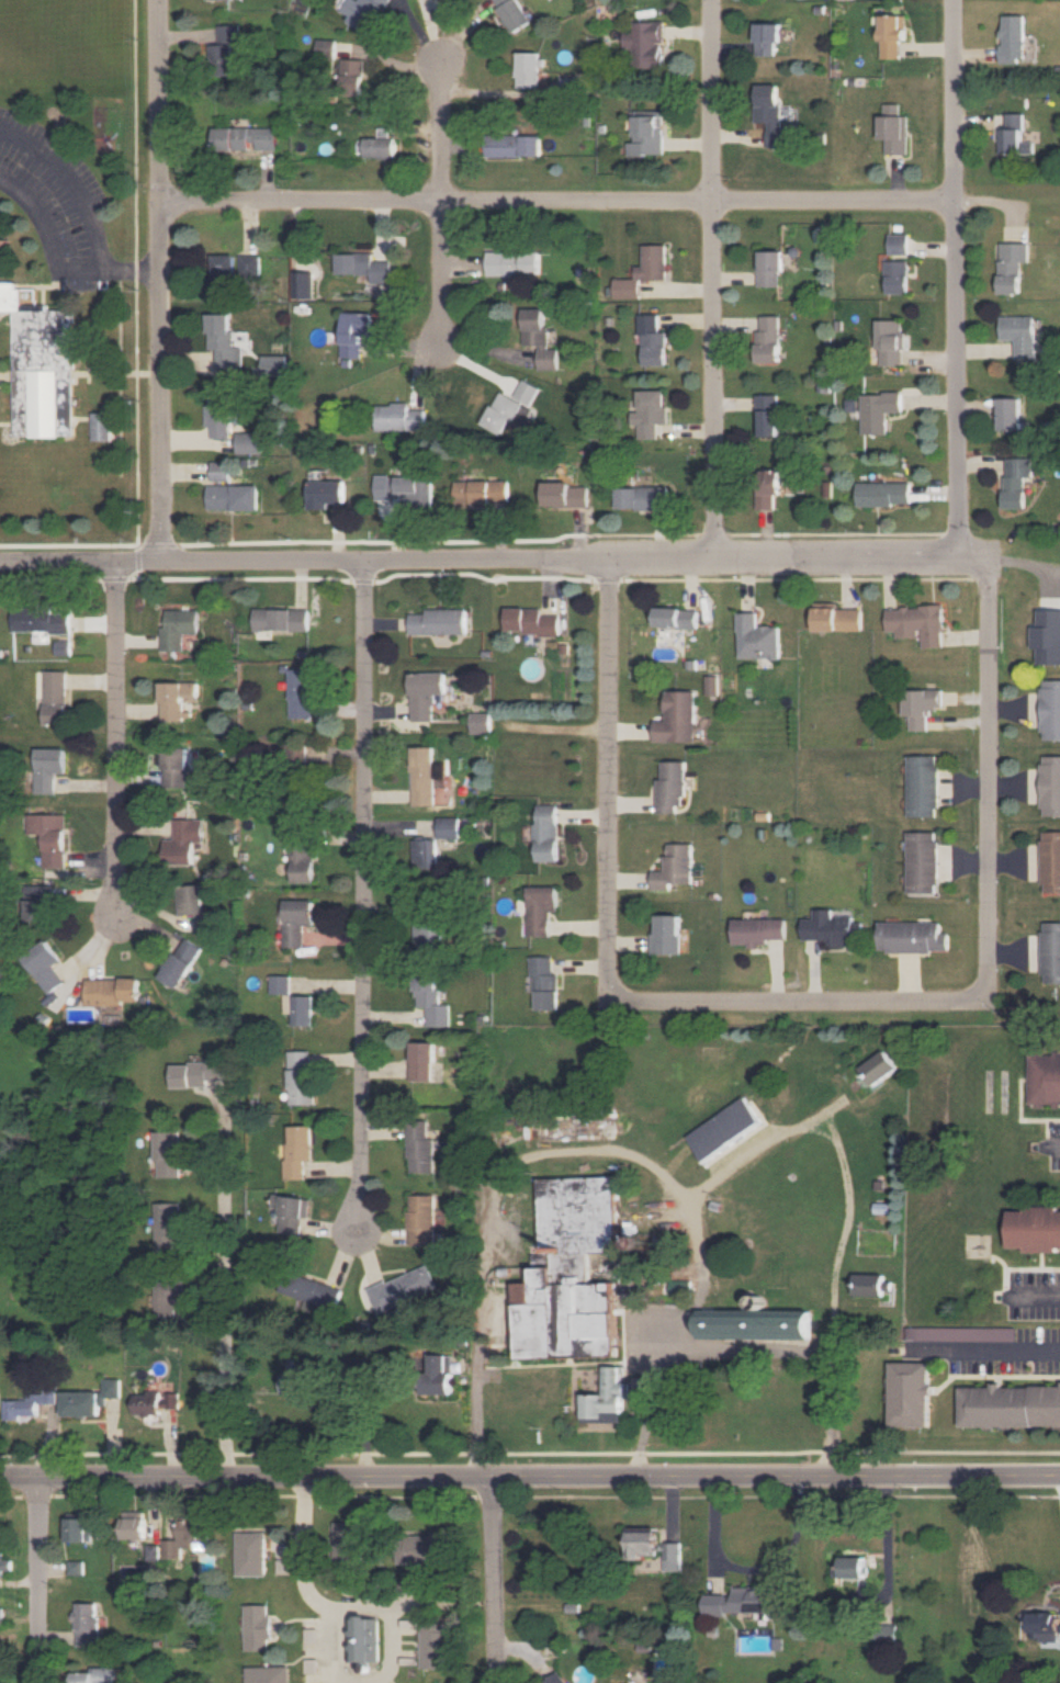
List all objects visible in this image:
building: (364, 12)
building: (511, 14)
building: (893, 34)
building: (1013, 37)
building: (768, 38)
building: (645, 43)
building: (326, 48)
building: (225, 49)
building: (528, 69)
building: (352, 76)
building: (773, 114)
building: (895, 129)
road: (443, 132)
building: (649, 133)
building: (1013, 135)
building: (245, 138)
building: (381, 145)
building: (512, 145)
road: (71, 184)
road: (561, 202)
building: (899, 244)
building: (1, 249)
road: (57, 263)
building: (514, 263)
building: (224, 266)
building: (249, 266)
building: (363, 266)
building: (1012, 266)
building: (771, 268)
building: (644, 271)
road: (442, 273)
road: (718, 276)
building: (898, 276)
road: (960, 278)
road: (162, 281)
building: (304, 284)
building: (356, 332)
building: (1022, 336)
building: (540, 338)
building: (769, 339)
building: (223, 340)
building: (653, 341)
building: (891, 342)
building: (41, 365)
building: (275, 365)
building: (527, 392)
building: (219, 410)
building: (879, 410)
building: (506, 413)
building: (651, 413)
building: (1010, 414)
building: (769, 415)
building: (399, 418)
building: (101, 426)
building: (250, 442)
building: (221, 471)
building: (1016, 481)
building: (768, 487)
building: (407, 489)
building: (482, 492)
building: (326, 493)
building: (883, 493)
building: (565, 495)
building: (234, 497)
building: (642, 498)
road: (494, 558)
building: (676, 618)
building: (835, 618)
building: (38, 619)
building: (280, 619)
building: (438, 621)
building: (531, 621)
building: (916, 623)
building: (179, 628)
building: (1047, 636)
building: (756, 637)
building: (63, 647)
building: (300, 692)
building: (424, 693)
building: (55, 698)
building: (176, 699)
building: (920, 705)
building: (1050, 709)
building: (677, 718)
building: (480, 722)
road: (119, 737)
building: (295, 755)
building: (176, 767)
building: (47, 768)
building: (421, 776)
road: (611, 779)
road: (988, 784)
building: (922, 786)
building: (1050, 786)
building: (670, 788)
building: (448, 827)
building: (545, 833)
building: (49, 836)
building: (182, 840)
building: (301, 850)
building: (425, 854)
building: (922, 861)
building: (1050, 861)
building: (674, 867)
road: (361, 891)
building: (41, 902)
building: (193, 906)
building: (540, 908)
building: (295, 920)
building: (832, 929)
building: (757, 930)
building: (666, 935)
building: (426, 936)
building: (912, 937)
building: (1050, 952)
building: (179, 962)
building: (44, 965)
building: (280, 983)
building: (544, 984)
building: (111, 991)
building: (430, 998)
road: (793, 1002)
building: (298, 1008)
building: (421, 1061)
building: (876, 1070)
building: (198, 1073)
building: (300, 1076)
building: (1044, 1078)
building: (731, 1121)
building: (419, 1144)
road: (1055, 1147)
building: (297, 1151)
road: (532, 1152)
building: (168, 1153)
road: (847, 1162)
building: (880, 1210)
building: (289, 1212)
building: (422, 1220)
building: (169, 1227)
building: (1035, 1229)
building: (565, 1273)
road: (226, 1284)
building: (865, 1286)
building: (404, 1288)
building: (312, 1290)
road: (1042, 1294)
building: (169, 1300)
road: (161, 1320)
building: (749, 1326)
building: (962, 1333)
parking lot: (670, 1345)
road: (1001, 1351)
road: (792, 1360)
road: (600, 1363)
building: (442, 1374)
building: (300, 1377)
building: (912, 1393)
building: (92, 1399)
building: (156, 1402)
building: (601, 1402)
building: (30, 1403)
building: (1011, 1405)
road: (641, 1421)
road: (529, 1479)
building: (136, 1524)
building: (81, 1528)
building: (189, 1537)
building: (642, 1540)
building: (350, 1541)
building: (420, 1549)
building: (155, 1551)
building: (252, 1554)
building: (672, 1555)
building: (4, 1560)
building: (77, 1567)
building: (854, 1567)
road: (40, 1581)
road: (500, 1581)
building: (743, 1601)
building: (1, 1615)
building: (87, 1624)
building: (1046, 1626)
building: (258, 1627)
building: (364, 1638)
building: (433, 1645)
road: (329, 1663)
building: (269, 1674)
building: (97, 1675)
building: (554, 1679)

